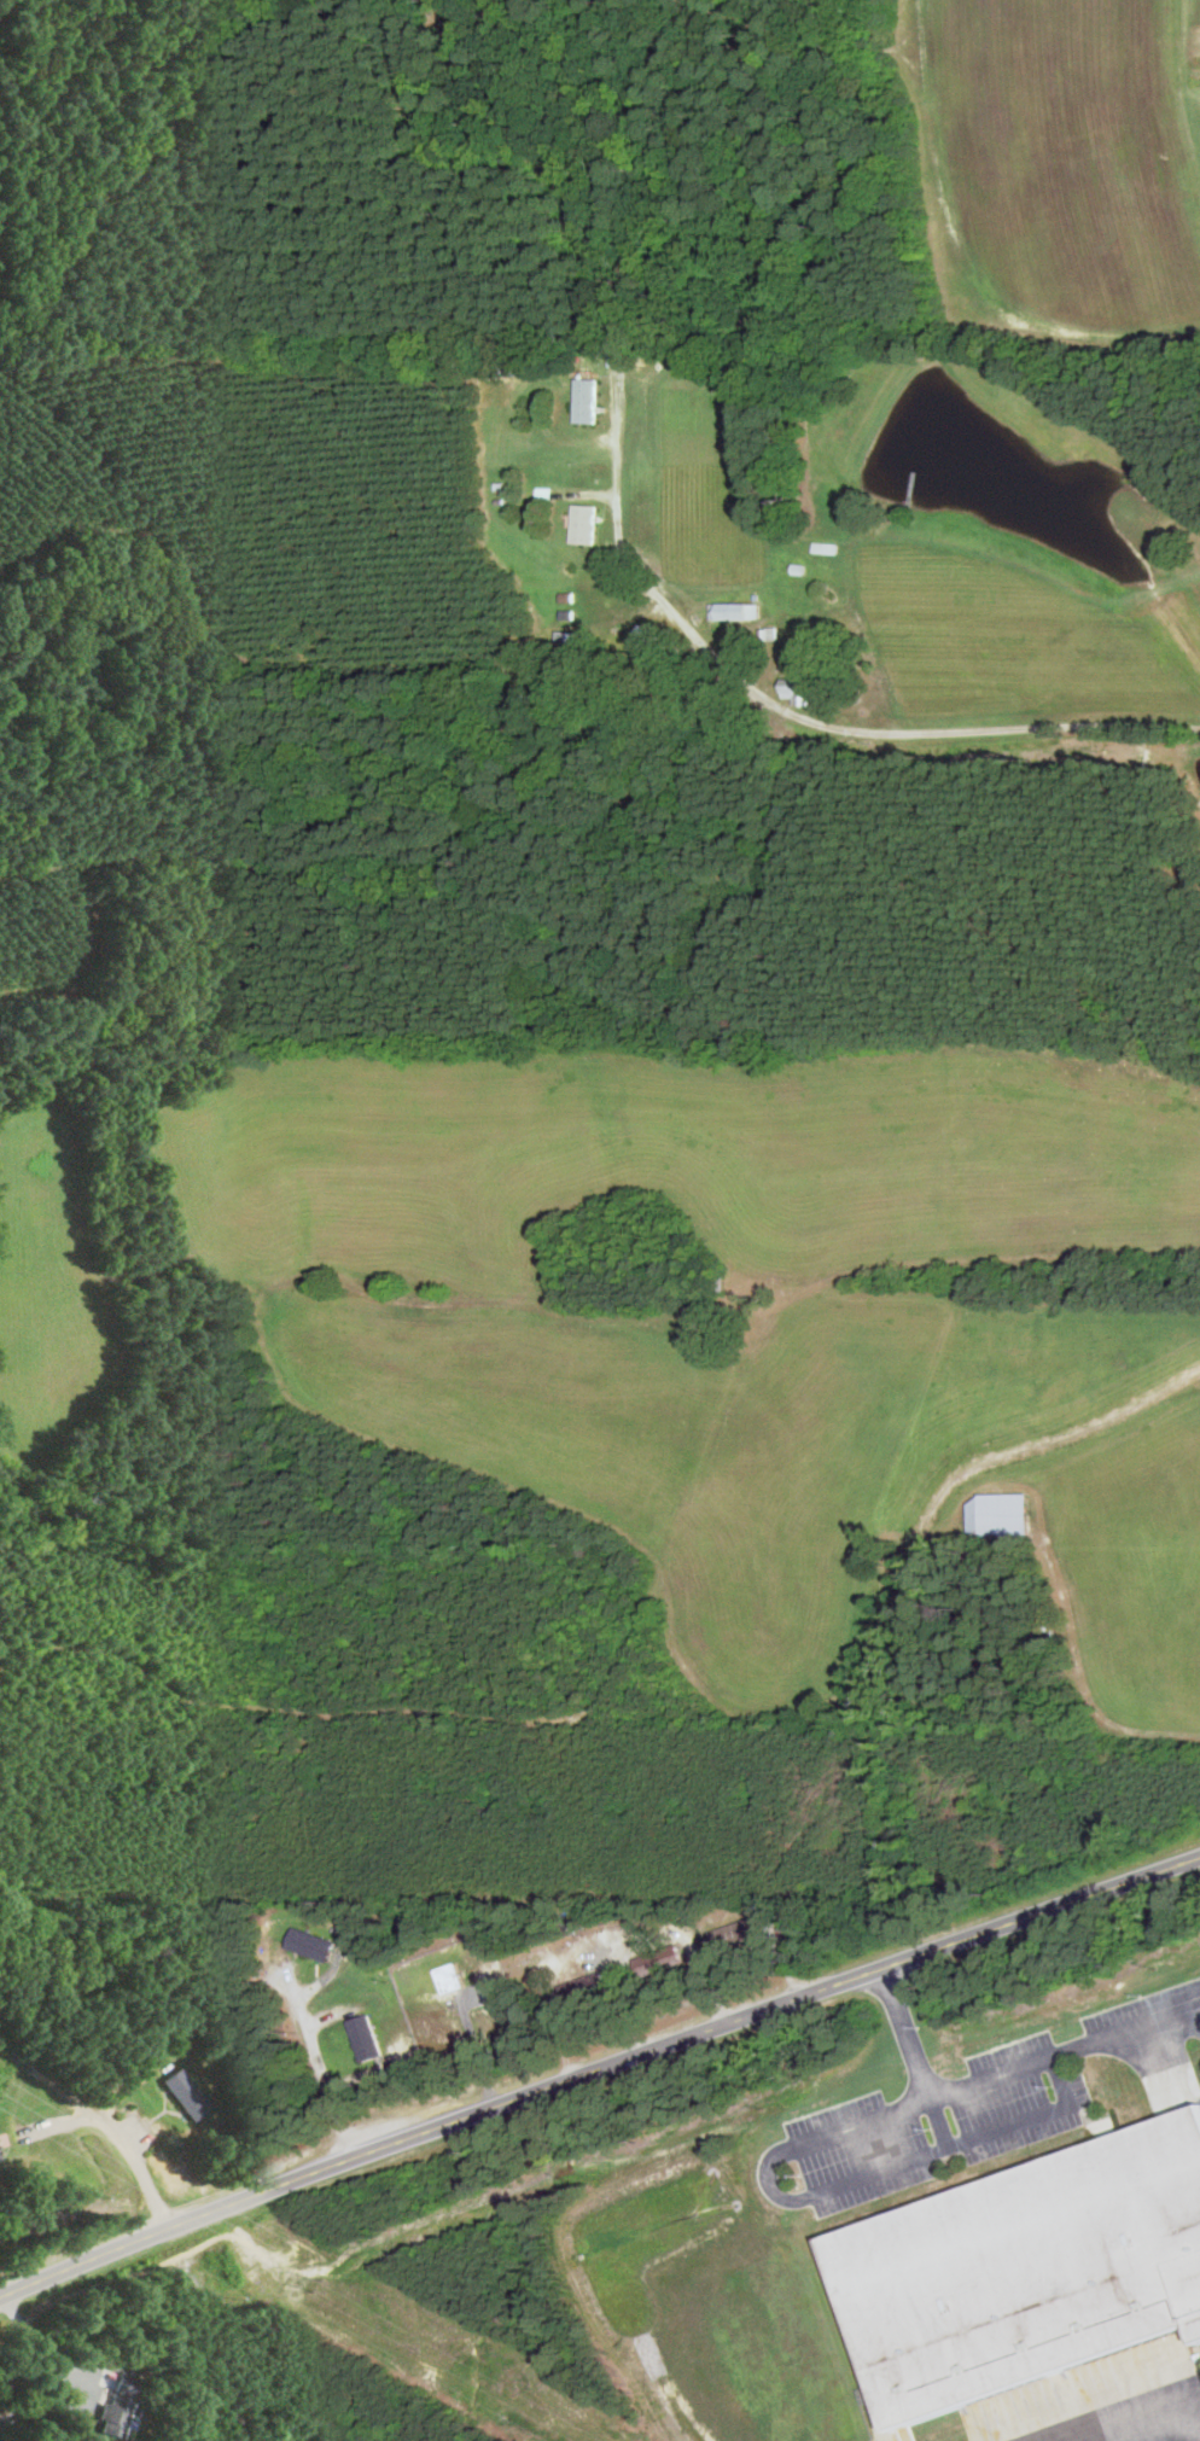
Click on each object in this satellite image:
building: (586, 400)
building: (584, 523)
building: (826, 547)
building: (734, 610)
building: (651, 633)
building: (569, 637)
building: (799, 689)
road: (847, 729)
building: (718, 1281)
building: (998, 1515)
building: (735, 1933)
building: (311, 1942)
building: (658, 1961)
building: (449, 1977)
building: (584, 1987)
road: (1125, 2028)
building: (366, 2037)
road: (316, 2049)
road: (477, 2051)
road: (915, 2055)
road: (1163, 2062)
road: (595, 2068)
building: (182, 2093)
road: (99, 2121)
road: (54, 2130)
road: (788, 2196)
building: (1025, 2267)
power tower: (319, 2279)
road: (57, 2371)
building: (116, 2405)
road: (1141, 2419)

